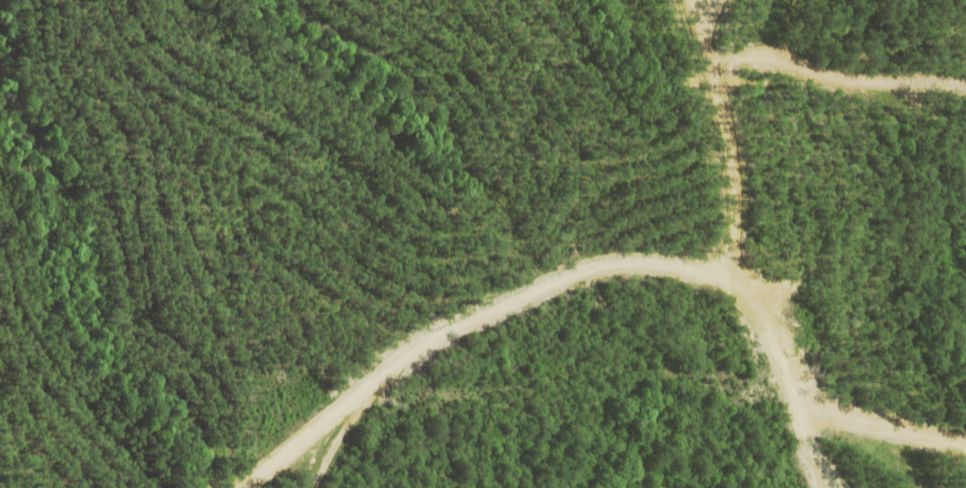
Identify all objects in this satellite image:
road: (583, 311)

